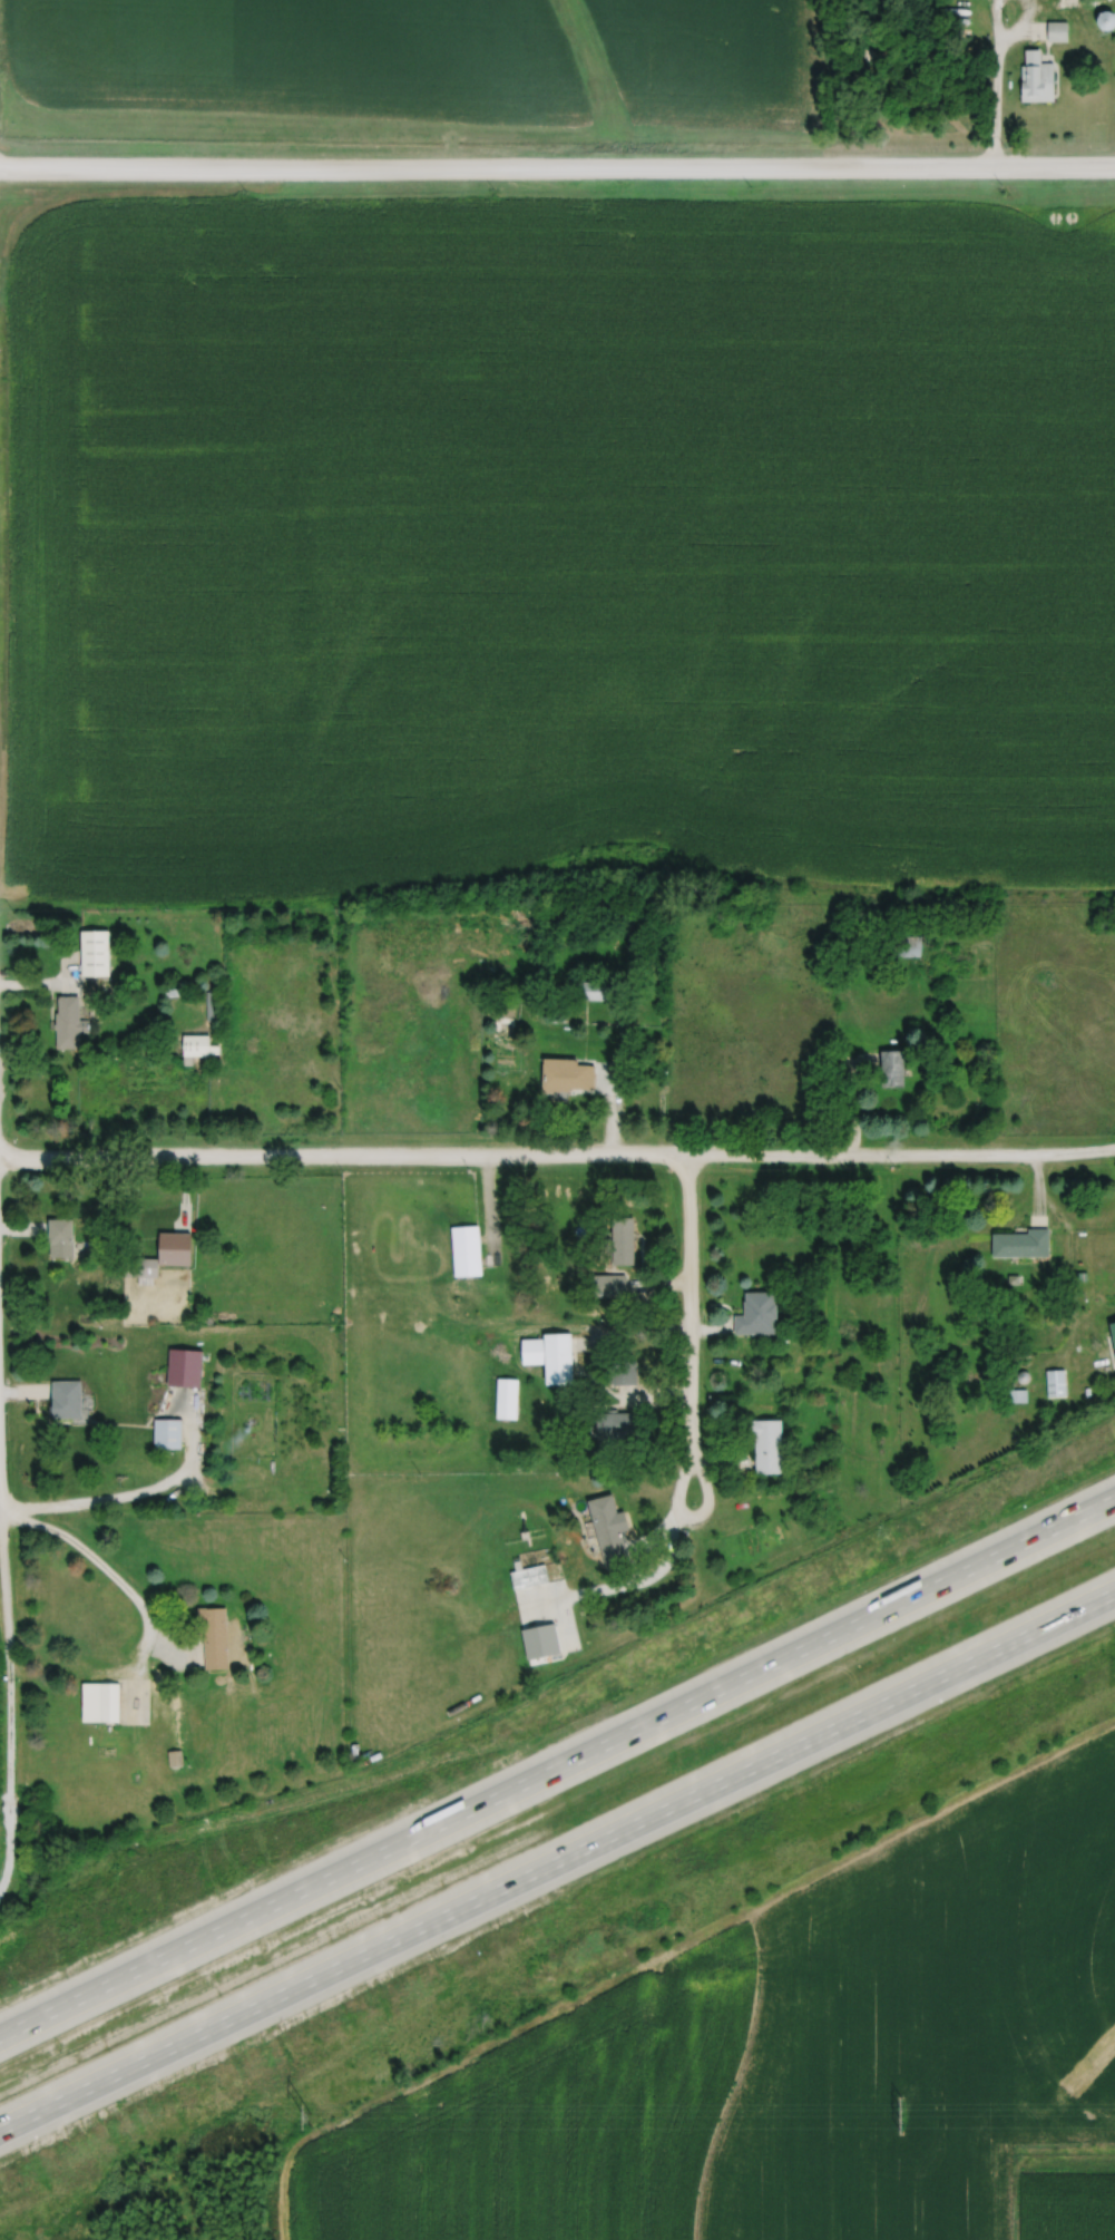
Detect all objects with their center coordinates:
building: (1103, 20)
building: (1056, 31)
road: (1001, 35)
building: (1035, 82)
road: (992, 105)
road: (557, 169)
building: (906, 946)
building: (96, 952)
building: (593, 991)
building: (68, 1022)
building: (198, 1045)
building: (890, 1068)
building: (577, 1075)
road: (557, 1156)
building: (61, 1237)
building: (619, 1241)
building: (1018, 1244)
building: (143, 1266)
building: (606, 1286)
building: (755, 1314)
road: (688, 1331)
building: (548, 1356)
building: (186, 1366)
building: (622, 1373)
building: (1053, 1385)
building: (67, 1399)
building: (505, 1400)
building: (614, 1429)
building: (168, 1433)
building: (764, 1444)
road: (135, 1497)
building: (606, 1531)
building: (527, 1576)
road: (144, 1616)
building: (215, 1638)
road: (9, 1666)
building: (101, 1703)
road: (557, 1766)
road: (557, 1859)
power tower: (900, 2108)
power tower: (600, 2113)
power tower: (239, 2119)

